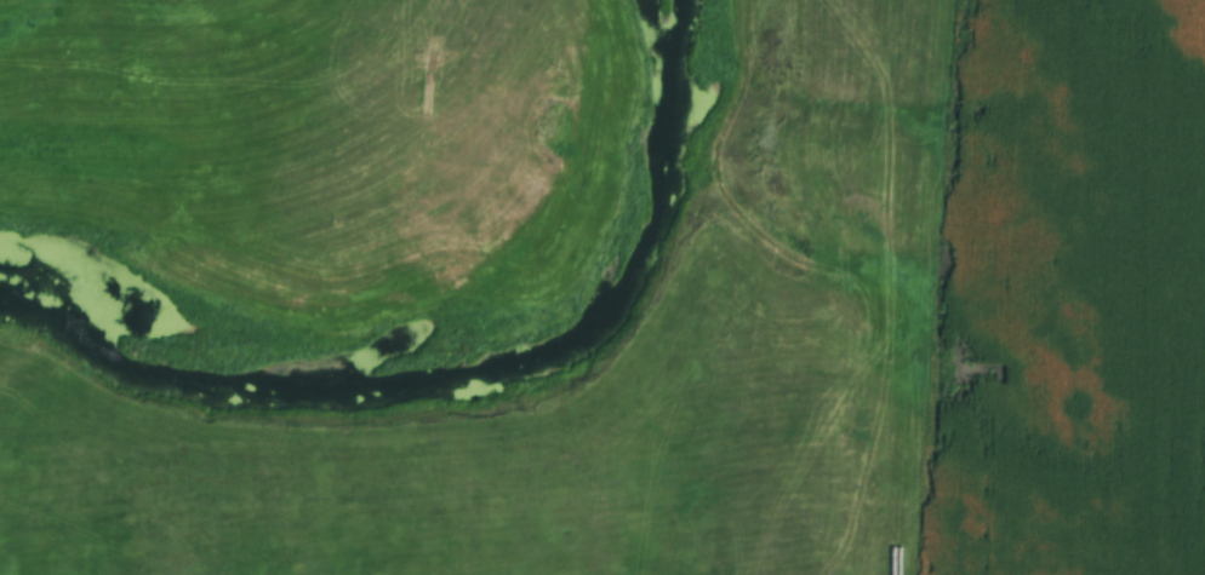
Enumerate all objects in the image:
river: (469, 395)

